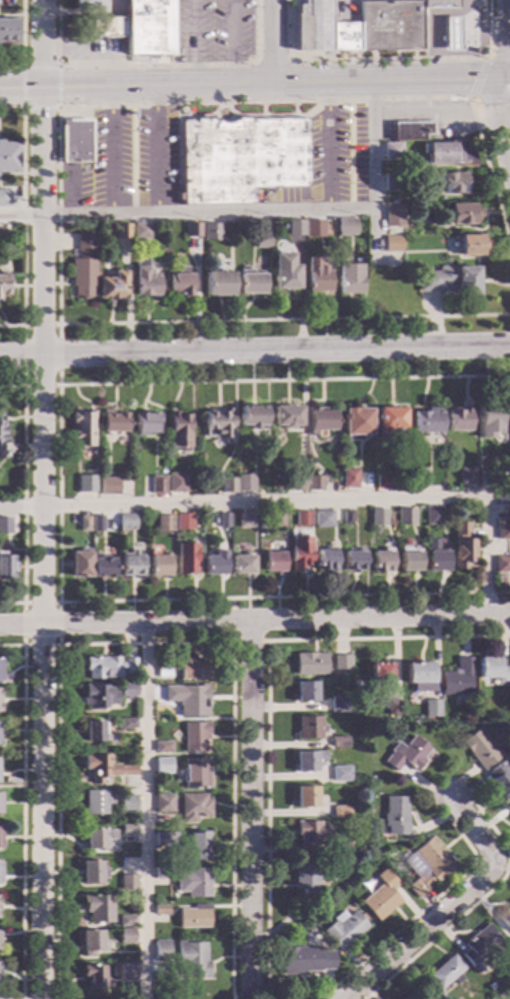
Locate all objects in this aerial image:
building: (87, 5)
building: (363, 27)
building: (137, 28)
building: (7, 33)
building: (450, 35)
road: (506, 40)
road: (272, 42)
road: (191, 43)
road: (231, 43)
road: (500, 57)
road: (273, 58)
road: (388, 58)
road: (486, 59)
road: (162, 65)
road: (56, 66)
road: (10, 67)
road: (507, 79)
traffic signals: (504, 80)
road: (388, 82)
road: (136, 88)
road: (474, 95)
road: (506, 99)
road: (502, 117)
building: (410, 131)
building: (76, 140)
building: (393, 150)
road: (110, 151)
building: (448, 154)
building: (9, 156)
road: (56, 158)
building: (241, 158)
road: (371, 171)
building: (392, 180)
building: (454, 183)
building: (4, 197)
road: (186, 211)
building: (463, 213)
building: (394, 215)
road: (21, 216)
building: (346, 226)
building: (295, 227)
building: (312, 227)
building: (123, 230)
building: (141, 230)
building: (193, 230)
building: (211, 232)
building: (0, 236)
building: (261, 239)
building: (392, 244)
building: (471, 244)
building: (84, 268)
building: (285, 271)
building: (316, 275)
building: (144, 278)
building: (349, 278)
building: (450, 280)
building: (182, 282)
building: (251, 282)
building: (219, 283)
building: (3, 284)
building: (113, 285)
road: (254, 352)
road: (54, 385)
building: (252, 415)
building: (286, 416)
building: (459, 418)
building: (113, 420)
building: (490, 420)
building: (319, 421)
building: (357, 422)
building: (427, 422)
building: (146, 423)
building: (389, 423)
building: (220, 424)
building: (83, 428)
building: (179, 430)
building: (2, 431)
building: (121, 439)
building: (0, 453)
building: (506, 472)
building: (467, 475)
building: (350, 478)
building: (420, 478)
building: (488, 478)
building: (384, 480)
building: (295, 481)
building: (176, 482)
building: (245, 482)
building: (315, 483)
building: (157, 484)
building: (229, 484)
building: (109, 486)
building: (87, 487)
road: (21, 494)
road: (56, 494)
building: (503, 497)
road: (40, 499)
road: (303, 501)
building: (433, 515)
building: (406, 516)
building: (347, 517)
building: (276, 518)
building: (304, 518)
building: (223, 519)
building: (245, 519)
building: (324, 519)
building: (378, 519)
building: (127, 521)
building: (163, 522)
building: (184, 522)
building: (84, 523)
building: (97, 523)
building: (2, 525)
building: (503, 531)
building: (464, 546)
building: (301, 553)
building: (436, 556)
building: (409, 557)
building: (187, 558)
building: (325, 560)
building: (354, 560)
building: (381, 561)
building: (215, 562)
building: (273, 562)
building: (79, 564)
building: (243, 564)
building: (502, 564)
building: (159, 565)
building: (6, 566)
building: (131, 566)
building: (101, 567)
road: (254, 619)
road: (229, 638)
road: (144, 643)
road: (55, 645)
building: (341, 661)
building: (311, 664)
building: (109, 667)
building: (183, 668)
building: (492, 669)
building: (380, 674)
building: (421, 676)
building: (457, 679)
building: (128, 689)
building: (306, 691)
building: (99, 696)
building: (188, 698)
road: (265, 698)
building: (339, 704)
building: (394, 707)
building: (432, 707)
building: (126, 723)
building: (310, 727)
building: (93, 730)
building: (370, 732)
building: (195, 736)
building: (340, 742)
building: (163, 746)
building: (482, 749)
building: (407, 755)
building: (308, 760)
building: (163, 766)
building: (105, 768)
building: (195, 773)
building: (341, 774)
building: (501, 778)
building: (305, 797)
building: (96, 801)
building: (128, 802)
building: (164, 803)
building: (194, 807)
road: (146, 810)
road: (252, 810)
road: (20, 811)
building: (340, 811)
building: (396, 815)
building: (129, 829)
building: (309, 832)
building: (0, 837)
building: (99, 838)
building: (166, 839)
building: (197, 846)
building: (341, 846)
building: (390, 852)
building: (128, 863)
building: (428, 865)
building: (91, 872)
building: (163, 873)
building: (306, 876)
building: (194, 882)
building: (127, 883)
building: (383, 896)
road: (450, 905)
building: (99, 908)
building: (161, 909)
road: (467, 909)
road: (416, 914)
building: (195, 917)
building: (505, 917)
building: (128, 921)
building: (346, 929)
building: (128, 936)
building: (91, 942)
building: (481, 945)
building: (163, 951)
building: (193, 959)
building: (305, 960)
building: (128, 973)
building: (447, 973)
building: (94, 976)
building: (415, 996)
building: (441, 996)
building: (126, 998)

